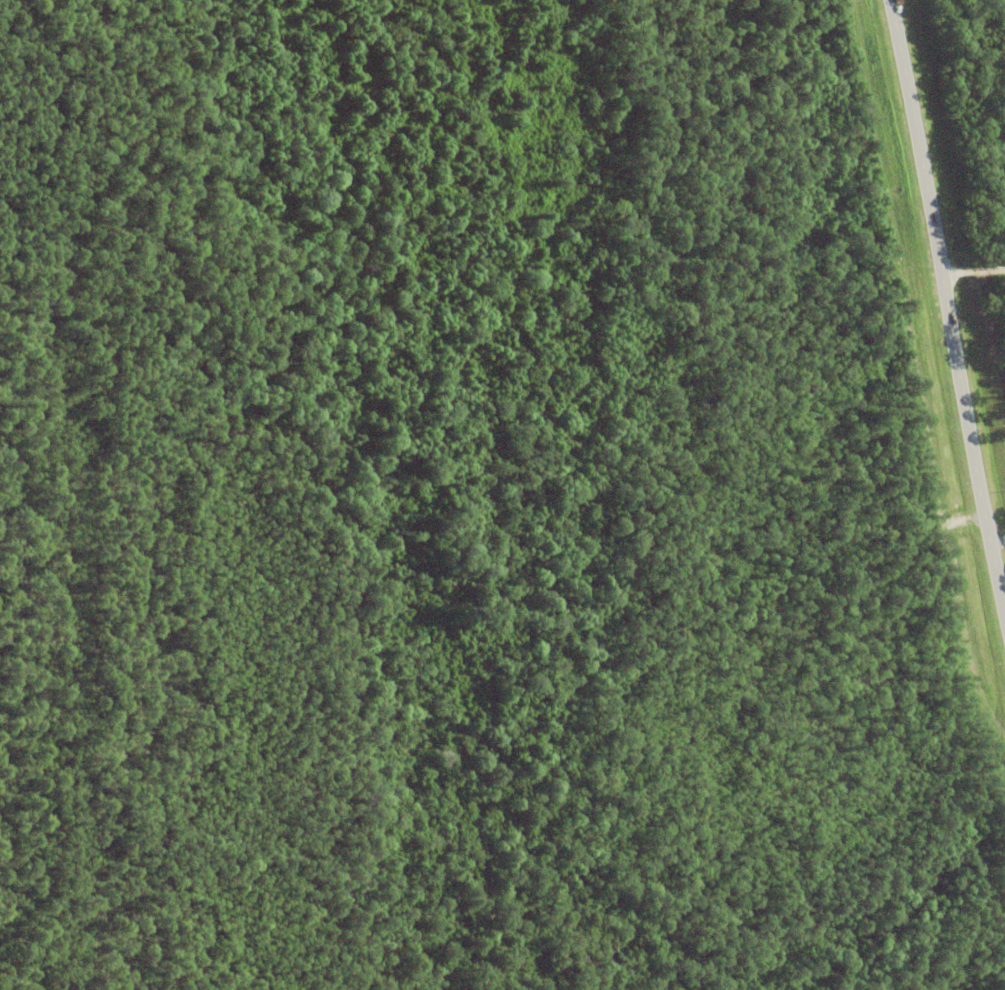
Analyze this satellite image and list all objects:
road: (946, 296)
road: (1000, 545)

